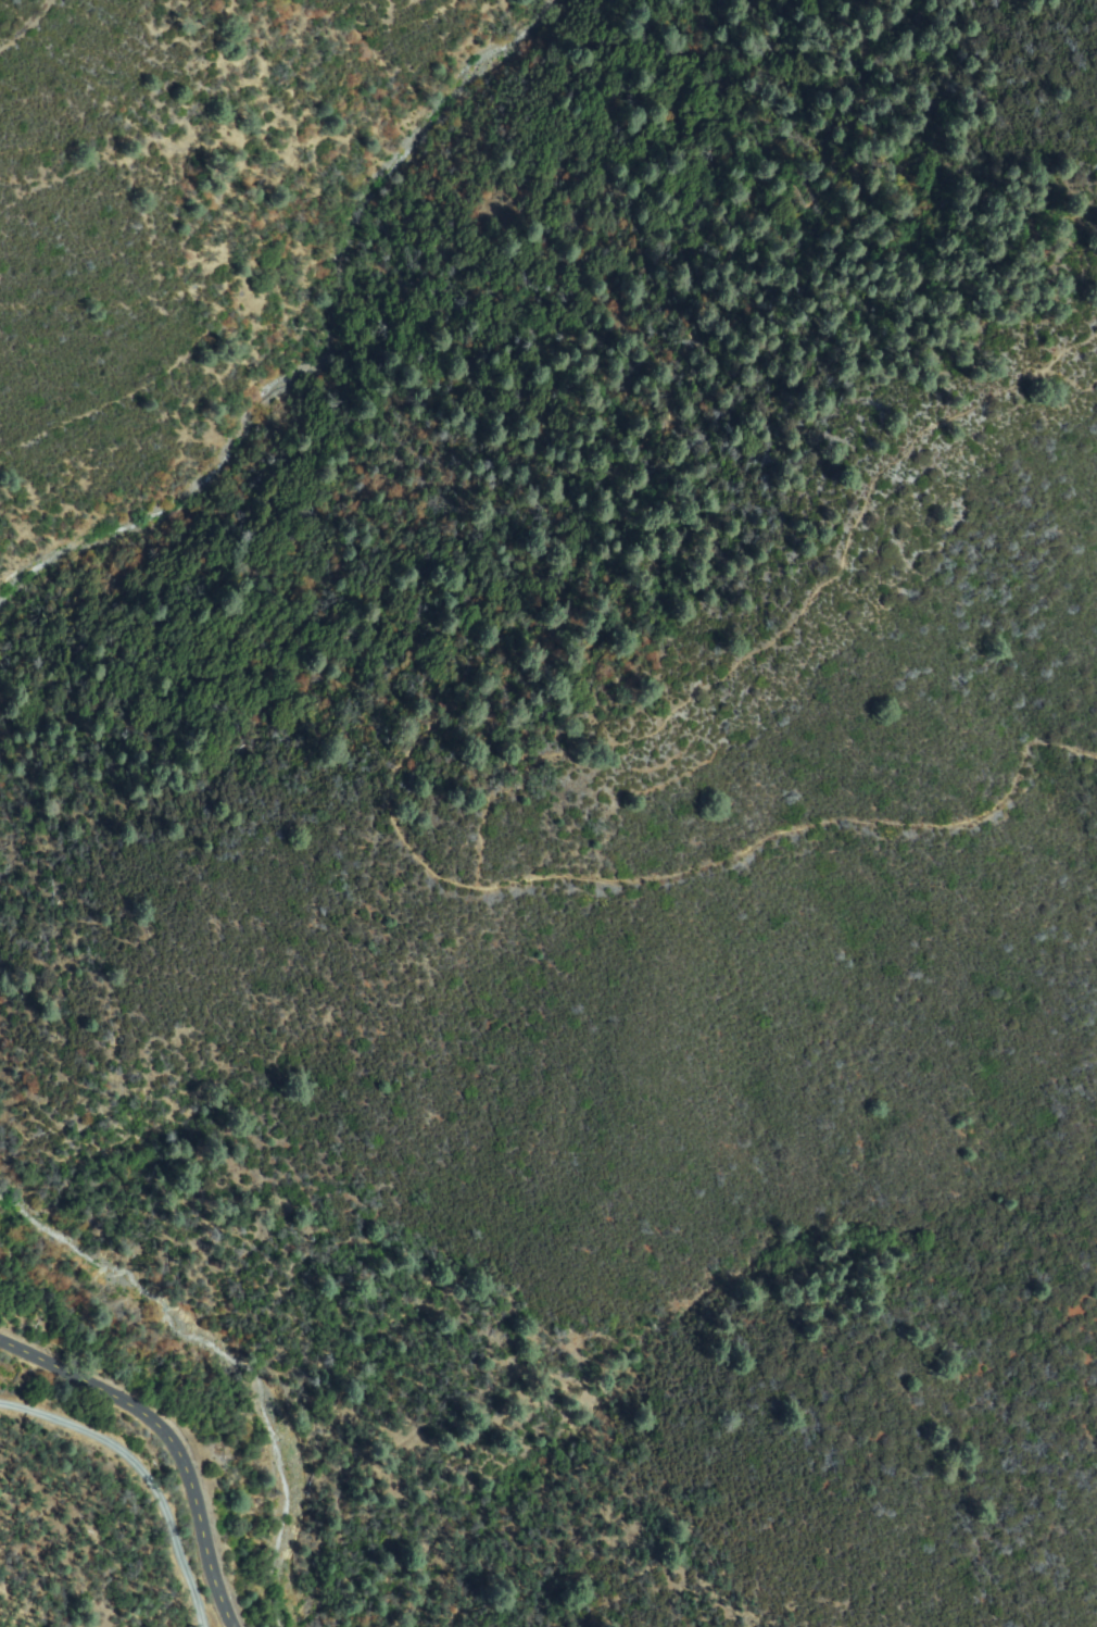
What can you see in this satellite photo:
road: (168, 1441)
road: (143, 1474)

